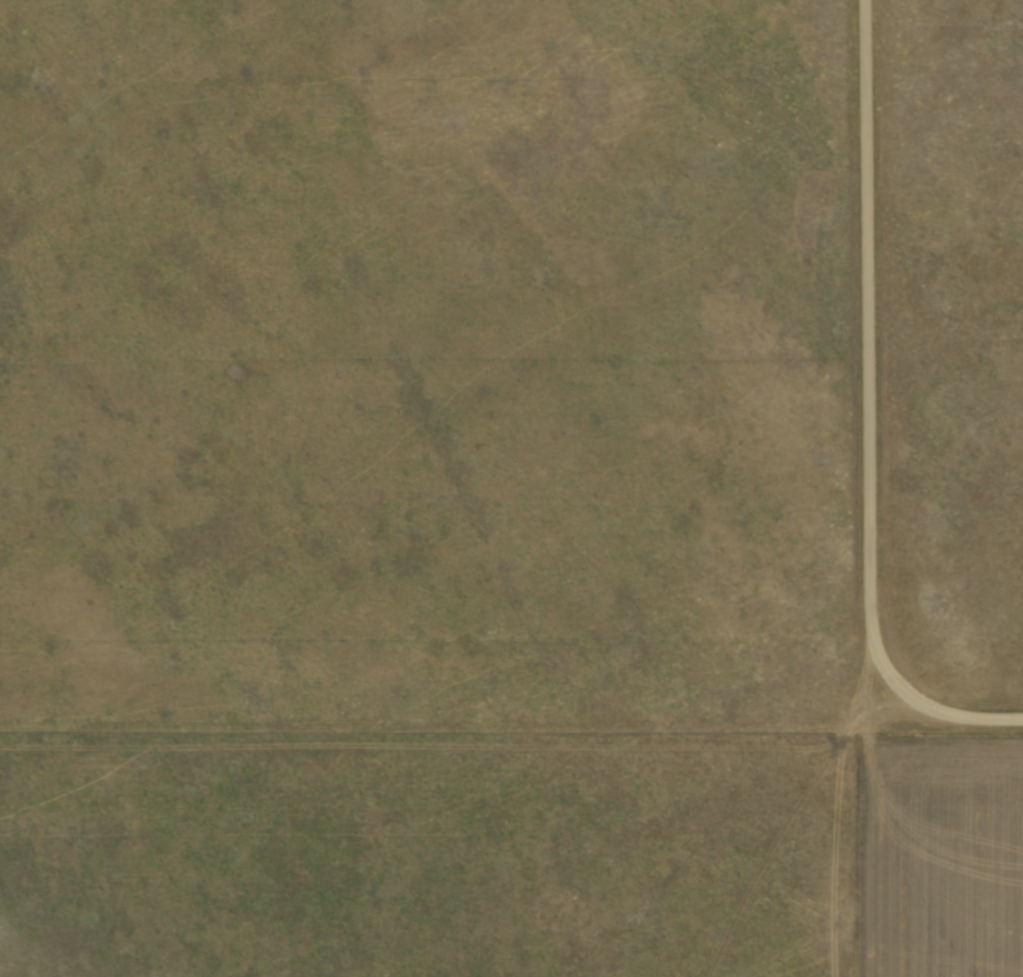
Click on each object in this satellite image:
road: (866, 413)

